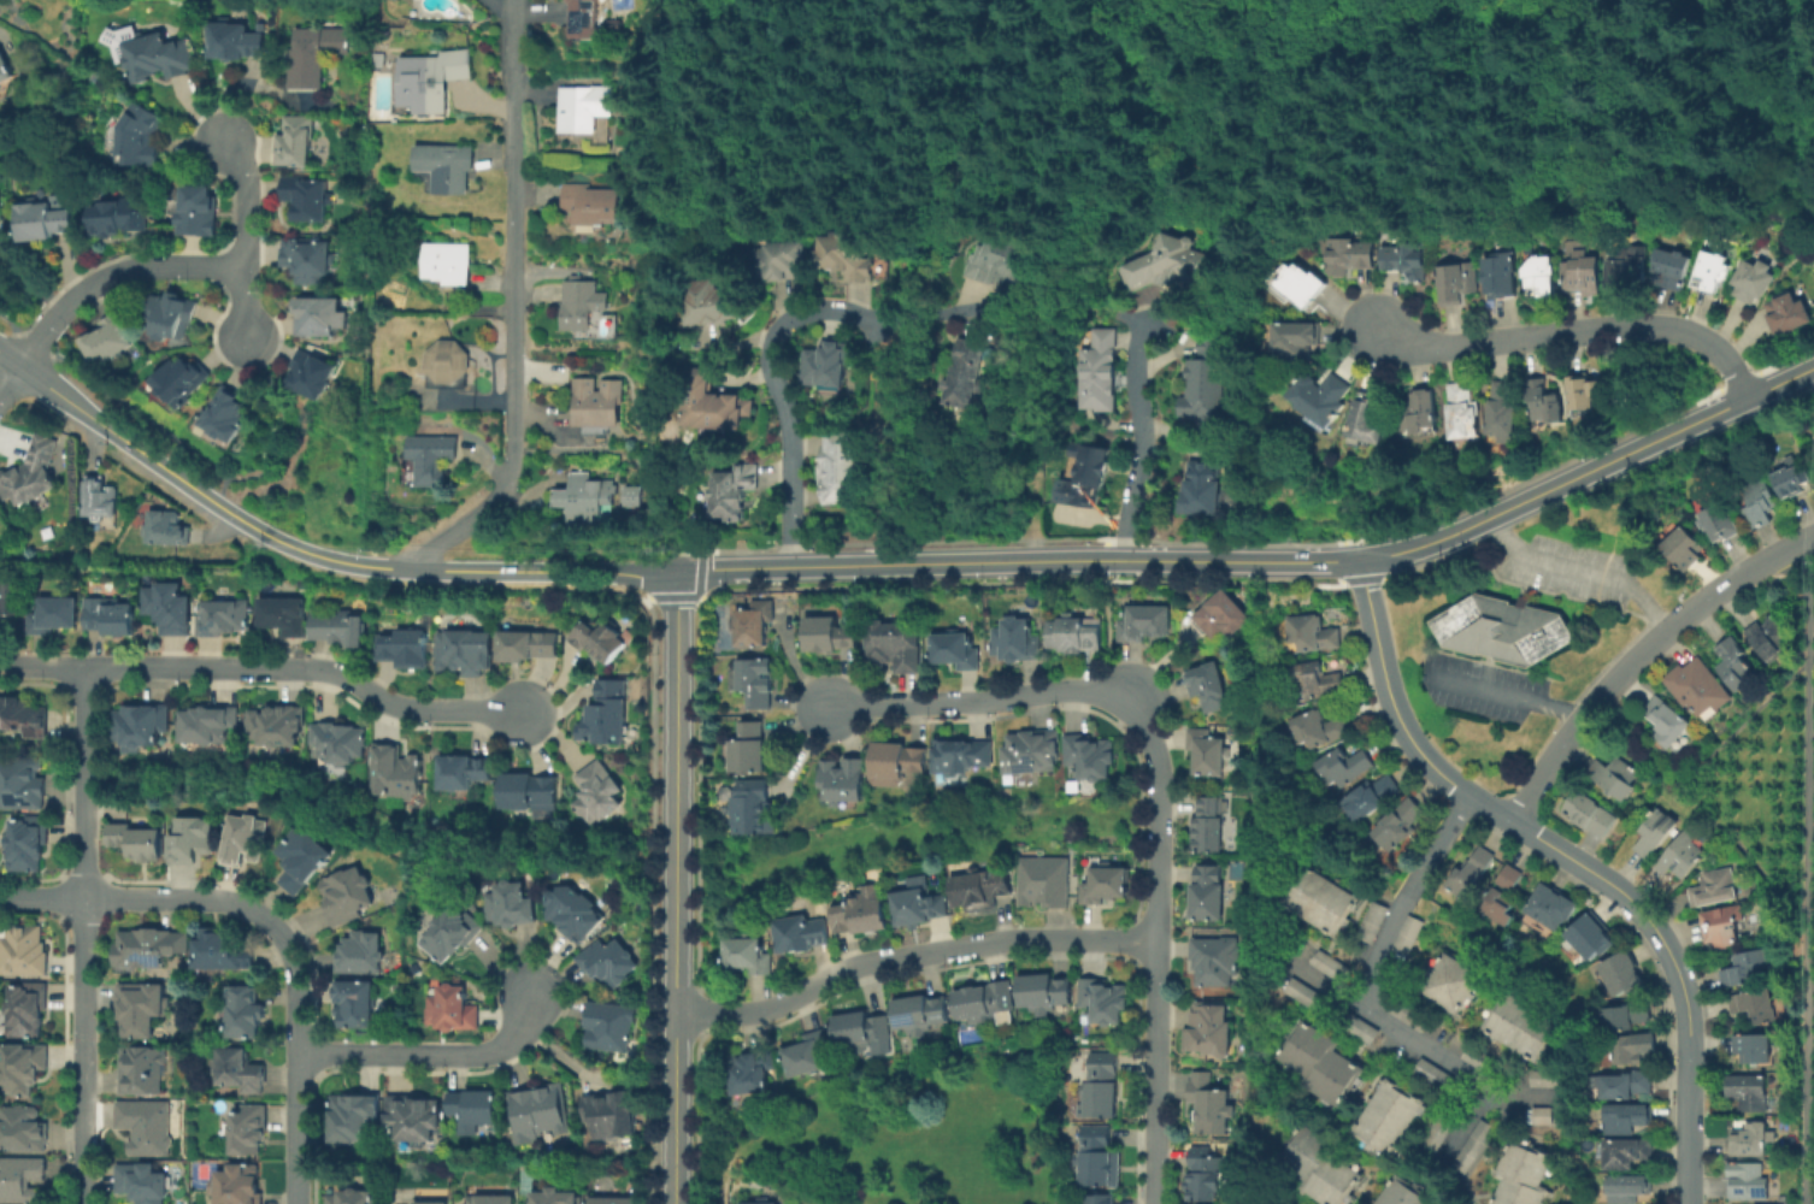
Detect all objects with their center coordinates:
building: (590, 19)
building: (236, 43)
building: (316, 57)
building: (158, 59)
building: (6, 69)
building: (429, 82)
road: (1194, 101)
building: (585, 110)
building: (139, 140)
building: (296, 143)
building: (448, 170)
building: (308, 201)
building: (590, 206)
building: (1, 211)
building: (199, 214)
building: (119, 218)
building: (42, 223)
road: (245, 242)
building: (1349, 254)
building: (846, 255)
building: (1407, 258)
building: (779, 259)
building: (999, 261)
building: (307, 262)
building: (1168, 264)
building: (449, 265)
building: (1673, 267)
building: (1630, 268)
building: (1713, 271)
building: (1583, 272)
building: (1501, 273)
road: (112, 276)
building: (1542, 276)
building: (1755, 279)
building: (1457, 281)
building: (1303, 283)
building: (708, 302)
building: (583, 306)
road: (513, 307)
building: (1790, 312)
building: (320, 319)
building: (170, 320)
road: (1573, 332)
building: (1297, 340)
building: (110, 342)
road: (11, 361)
building: (448, 364)
building: (826, 364)
building: (1100, 371)
building: (966, 373)
road: (1037, 373)
building: (314, 378)
building: (1207, 380)
road: (11, 384)
building: (177, 384)
building: (1588, 391)
road: (781, 396)
building: (1321, 396)
building: (1545, 400)
building: (713, 402)
building: (599, 411)
building: (1463, 411)
building: (1504, 411)
building: (1420, 414)
building: (226, 420)
building: (1368, 421)
road: (119, 438)
road: (1139, 441)
road: (284, 443)
road: (1635, 448)
building: (431, 458)
building: (841, 467)
building: (31, 476)
building: (1085, 476)
building: (1794, 478)
building: (1205, 488)
building: (734, 491)
building: (583, 498)
building: (100, 500)
building: (635, 500)
building: (1759, 500)
building: (1721, 521)
building: (167, 530)
building: (1685, 548)
road: (311, 553)
road: (1067, 559)
road: (1577, 569)
road: (544, 571)
road: (1791, 572)
road: (1731, 582)
building: (302, 584)
road: (1551, 592)
building: (10, 597)
building: (167, 608)
building: (52, 614)
building: (222, 615)
building: (282, 615)
building: (1221, 615)
building: (108, 616)
building: (1144, 622)
building: (753, 624)
road: (1105, 625)
building: (337, 627)
building: (1504, 630)
building: (1314, 633)
building: (829, 635)
building: (1076, 635)
building: (1768, 637)
building: (597, 641)
building: (1015, 641)
building: (525, 645)
building: (894, 645)
building: (404, 649)
building: (955, 650)
building: (463, 651)
building: (1736, 662)
road: (265, 668)
road: (799, 671)
road: (1620, 674)
building: (753, 680)
building: (1318, 680)
building: (1208, 686)
building: (1698, 686)
road: (553, 687)
road: (1508, 694)
road: (558, 704)
building: (605, 715)
building: (23, 718)
building: (1668, 721)
road: (1739, 721)
building: (206, 724)
building: (139, 725)
building: (275, 725)
building: (1319, 728)
road: (552, 736)
building: (338, 742)
road: (1418, 742)
building: (748, 749)
building: (1031, 751)
building: (1207, 752)
road: (800, 755)
building: (961, 755)
building: (1089, 756)
building: (895, 763)
road: (1548, 765)
building: (1345, 766)
building: (461, 772)
building: (395, 773)
building: (1616, 777)
building: (842, 780)
building: (20, 783)
building: (526, 791)
road: (1154, 791)
building: (596, 792)
building: (1372, 797)
building: (753, 808)
road: (1703, 813)
building: (1590, 814)
building: (1208, 825)
building: (1398, 825)
building: (1656, 834)
building: (189, 839)
building: (243, 840)
building: (135, 842)
building: (26, 843)
building: (1682, 855)
building: (300, 860)
building: (1471, 873)
building: (1510, 878)
building: (1044, 881)
building: (1106, 884)
road: (677, 887)
road: (1808, 887)
building: (1715, 889)
building: (979, 890)
building: (1207, 893)
building: (346, 895)
road: (1408, 898)
building: (466, 901)
building: (1323, 902)
building: (918, 904)
building: (510, 905)
building: (1500, 908)
building: (1554, 908)
building: (573, 913)
building: (861, 913)
building: (1374, 922)
road: (275, 926)
building: (1724, 926)
building: (450, 933)
building: (800, 934)
building: (1407, 934)
road: (84, 936)
building: (1591, 937)
building: (147, 945)
building: (219, 949)
building: (23, 950)
building: (359, 954)
building: (747, 955)
road: (911, 955)
building: (1215, 960)
building: (1543, 961)
building: (607, 963)
building: (1331, 966)
building: (416, 968)
building: (1747, 968)
building: (1622, 975)
building: (1450, 985)
building: (1044, 993)
building: (1306, 995)
building: (1105, 1001)
building: (985, 1003)
building: (357, 1005)
building: (1756, 1005)
building: (25, 1008)
building: (141, 1008)
road: (1686, 1008)
building: (242, 1009)
building: (452, 1010)
building: (1410, 1015)
building: (921, 1016)
building: (1625, 1016)
building: (608, 1026)
building: (1359, 1027)
building: (1521, 1027)
building: (1209, 1029)
building: (860, 1031)
road: (1417, 1043)
building: (1635, 1049)
building: (1753, 1049)
road: (431, 1055)
building: (808, 1055)
building: (1483, 1061)
building: (1320, 1063)
building: (20, 1066)
building: (141, 1068)
building: (237, 1068)
building: (750, 1072)
building: (1435, 1075)
building: (1550, 1079)
building: (1624, 1085)
building: (1101, 1088)
building: (1750, 1093)
building: (179, 1103)
building: (1207, 1104)
building: (472, 1110)
building: (537, 1112)
building: (611, 1115)
building: (1544, 1115)
building: (1384, 1116)
building: (353, 1117)
building: (1629, 1119)
building: (411, 1120)
road: (1471, 1121)
building: (145, 1125)
building: (20, 1127)
building: (247, 1128)
building: (1441, 1132)
building: (1753, 1141)
building: (1474, 1146)
building: (1627, 1155)
building: (1099, 1158)
building: (1317, 1165)
building: (1203, 1176)
building: (1519, 1176)
building: (20, 1178)
building: (141, 1181)
building: (1748, 1182)
building: (236, 1184)
building: (1627, 1188)
building: (1397, 1191)
building: (352, 1197)
building: (554, 1198)
building: (1100, 1199)
building: (485, 1200)
building: (612, 1200)
building: (430, 1202)
building: (761, 1203)

